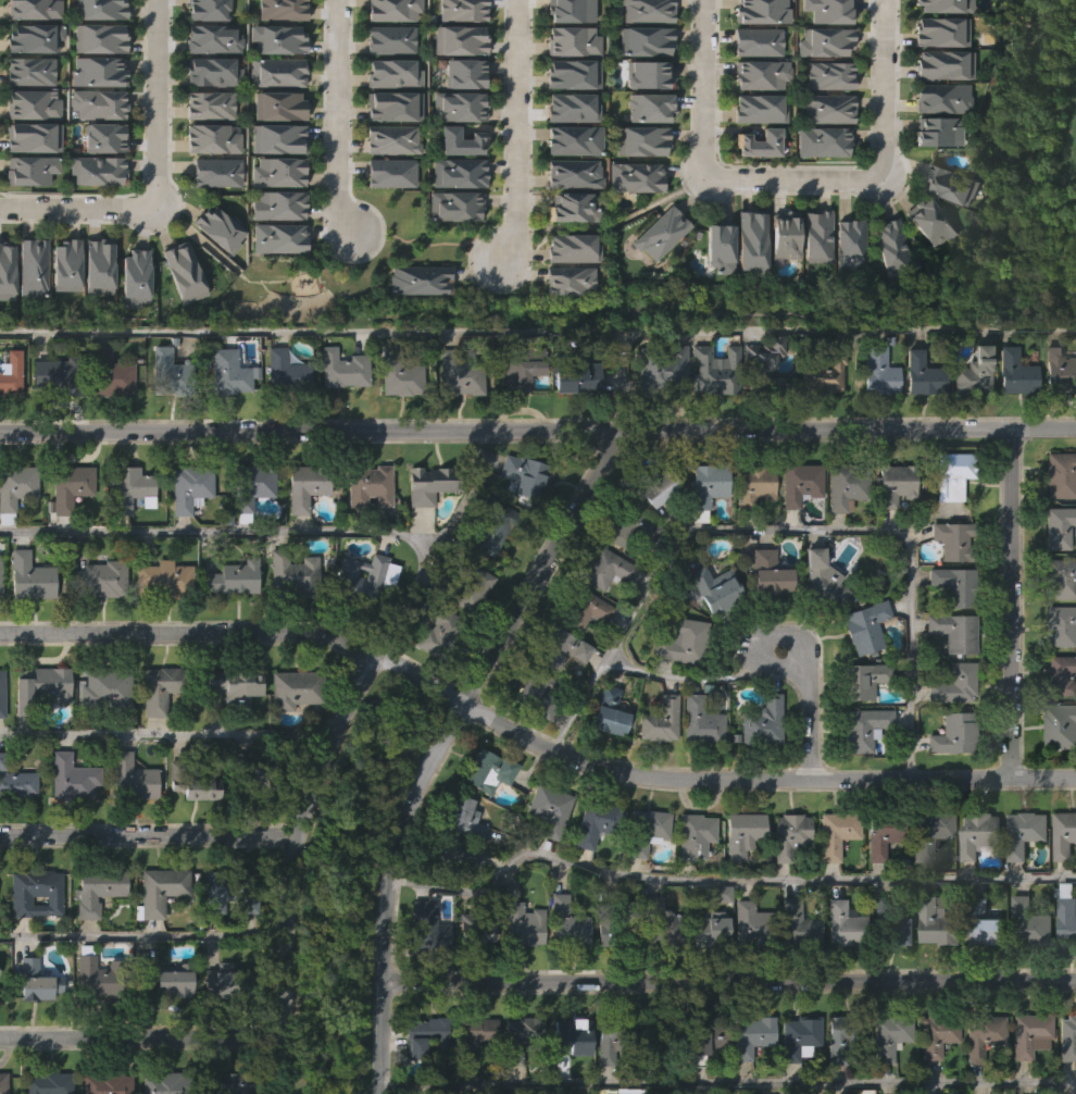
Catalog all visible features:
building: (646, 9)
building: (950, 12)
building: (27, 16)
building: (98, 16)
building: (211, 17)
building: (277, 18)
building: (385, 18)
building: (455, 18)
building: (572, 20)
building: (753, 20)
building: (822, 21)
building: (643, 37)
building: (938, 42)
building: (97, 49)
building: (29, 50)
building: (204, 50)
building: (278, 50)
building: (390, 51)
building: (459, 51)
building: (570, 52)
building: (641, 52)
building: (824, 52)
building: (758, 53)
building: (944, 64)
building: (574, 71)
building: (647, 72)
building: (393, 73)
building: (762, 74)
building: (32, 82)
building: (96, 83)
building: (210, 84)
building: (274, 84)
building: (455, 85)
building: (641, 85)
building: (570, 86)
building: (753, 86)
building: (821, 86)
road: (885, 87)
road: (705, 88)
building: (942, 95)
building: (649, 103)
building: (395, 104)
building: (572, 105)
road: (157, 107)
building: (454, 107)
building: (828, 108)
building: (760, 109)
building: (939, 109)
building: (27, 115)
building: (93, 115)
building: (210, 116)
building: (273, 116)
road: (339, 117)
building: (643, 119)
building: (940, 128)
road: (520, 133)
building: (574, 137)
building: (639, 137)
building: (461, 139)
building: (392, 140)
building: (761, 141)
building: (819, 142)
building: (93, 148)
building: (29, 149)
building: (207, 149)
building: (275, 150)
building: (646, 150)
building: (568, 151)
building: (574, 171)
building: (275, 172)
building: (391, 173)
building: (454, 174)
building: (635, 174)
road: (790, 177)
building: (29, 182)
building: (101, 182)
building: (209, 183)
building: (570, 185)
building: (949, 185)
building: (817, 186)
building: (754, 187)
building: (572, 203)
building: (278, 204)
building: (450, 207)
road: (79, 213)
building: (28, 214)
building: (95, 214)
building: (214, 216)
building: (387, 216)
building: (570, 217)
building: (930, 219)
building: (631, 222)
building: (659, 231)
building: (784, 232)
building: (816, 233)
building: (750, 237)
building: (274, 238)
building: (718, 243)
building: (849, 243)
building: (892, 244)
building: (575, 249)
building: (450, 250)
building: (926, 266)
building: (33, 268)
building: (7, 271)
building: (185, 272)
building: (216, 273)
building: (656, 277)
building: (420, 279)
building: (779, 279)
building: (812, 281)
building: (275, 282)
building: (747, 284)
building: (846, 290)
building: (714, 291)
building: (887, 291)
building: (568, 293)
building: (62, 310)
building: (96, 310)
building: (29, 312)
building: (4, 314)
building: (180, 316)
building: (132, 321)
building: (415, 324)
building: (565, 324)
road: (537, 328)
building: (762, 361)
building: (517, 365)
building: (347, 368)
building: (658, 368)
building: (713, 369)
building: (975, 369)
building: (1016, 370)
building: (1058, 370)
building: (232, 371)
building: (877, 371)
building: (173, 372)
building: (400, 372)
building: (290, 373)
building: (458, 373)
building: (823, 373)
building: (921, 373)
building: (111, 374)
building: (12, 375)
building: (62, 375)
building: (575, 377)
building: (762, 407)
building: (164, 413)
building: (339, 413)
building: (281, 414)
building: (659, 414)
building: (710, 415)
building: (875, 415)
building: (9, 417)
building: (225, 417)
building: (971, 417)
building: (1012, 417)
building: (1058, 417)
building: (108, 418)
building: (516, 418)
building: (455, 419)
building: (918, 419)
building: (53, 420)
building: (396, 420)
building: (819, 420)
building: (573, 422)
road: (538, 432)
building: (951, 473)
building: (1059, 473)
building: (522, 474)
building: (427, 482)
building: (800, 482)
building: (367, 484)
building: (751, 484)
building: (842, 484)
building: (893, 484)
building: (303, 485)
building: (71, 486)
building: (192, 487)
building: (248, 487)
building: (703, 487)
building: (15, 488)
building: (134, 488)
building: (662, 488)
road: (463, 496)
building: (949, 518)
building: (520, 519)
building: (128, 526)
road: (788, 526)
road: (272, 527)
building: (628, 527)
building: (796, 527)
building: (891, 527)
building: (1059, 527)
building: (424, 529)
building: (749, 529)
building: (15, 530)
building: (365, 530)
building: (66, 531)
building: (303, 531)
building: (498, 531)
building: (841, 531)
building: (654, 532)
building: (185, 533)
building: (249, 533)
building: (702, 533)
building: (953, 539)
building: (603, 568)
building: (291, 572)
building: (490, 573)
building: (627, 573)
building: (766, 573)
building: (2, 575)
building: (30, 576)
building: (233, 576)
building: (102, 579)
building: (1061, 579)
building: (167, 580)
building: (364, 580)
building: (826, 581)
building: (953, 585)
building: (462, 586)
building: (712, 587)
road: (1014, 604)
building: (579, 607)
building: (602, 612)
building: (289, 616)
building: (765, 618)
building: (362, 620)
building: (26, 621)
building: (816, 621)
building: (159, 622)
building: (96, 623)
building: (228, 623)
building: (863, 625)
building: (1059, 625)
building: (952, 630)
building: (437, 632)
building: (466, 632)
building: (711, 633)
building: (681, 641)
building: (549, 647)
building: (583, 654)
building: (1061, 675)
building: (433, 679)
building: (863, 679)
building: (678, 684)
building: (953, 684)
building: (233, 685)
building: (45, 686)
building: (110, 686)
building: (165, 687)
building: (293, 688)
building: (2, 693)
building: (536, 693)
building: (556, 693)
road: (812, 696)
building: (605, 711)
building: (658, 720)
building: (699, 722)
building: (761, 722)
building: (1060, 726)
building: (863, 728)
building: (38, 729)
building: (232, 730)
road: (167, 731)
building: (289, 733)
building: (102, 734)
building: (154, 734)
building: (953, 734)
road: (529, 737)
building: (533, 738)
building: (0, 739)
road: (445, 746)
building: (605, 756)
building: (656, 764)
building: (697, 766)
building: (759, 767)
building: (1058, 770)
building: (485, 771)
building: (860, 771)
building: (250, 772)
building: (76, 778)
building: (949, 778)
building: (135, 779)
building: (16, 782)
building: (193, 782)
building: (550, 808)
building: (484, 815)
building: (460, 818)
building: (70, 820)
building: (128, 822)
building: (593, 822)
building: (15, 828)
building: (642, 831)
building: (192, 832)
building: (740, 832)
building: (837, 832)
building: (1025, 832)
building: (881, 833)
building: (976, 833)
building: (788, 834)
building: (928, 834)
building: (1063, 834)
road: (149, 836)
building: (691, 836)
building: (546, 854)
building: (451, 858)
road: (293, 865)
building: (591, 867)
building: (640, 873)
building: (738, 877)
building: (1021, 877)
building: (786, 878)
building: (831, 878)
building: (926, 878)
building: (973, 878)
building: (1061, 878)
building: (690, 879)
road: (722, 880)
building: (873, 884)
building: (165, 888)
building: (100, 890)
building: (230, 890)
building: (38, 893)
building: (456, 897)
building: (1067, 912)
building: (796, 920)
building: (564, 923)
building: (656, 923)
building: (936, 923)
building: (981, 923)
building: (1027, 923)
building: (521, 924)
building: (750, 924)
building: (888, 924)
building: (425, 925)
building: (843, 927)
building: (212, 928)
building: (612, 928)
building: (708, 929)
building: (476, 930)
road: (142, 933)
building: (157, 933)
building: (93, 935)
building: (33, 937)
building: (243, 942)
building: (658, 965)
building: (933, 965)
building: (1064, 965)
building: (562, 966)
building: (745, 967)
building: (1026, 967)
building: (424, 968)
building: (793, 968)
building: (840, 968)
building: (518, 969)
building: (980, 970)
building: (599, 973)
building: (705, 973)
building: (473, 974)
building: (898, 975)
building: (103, 977)
building: (166, 978)
road: (728, 981)
building: (40, 982)
building: (232, 982)
building: (89, 1019)
building: (216, 1023)
building: (170, 1024)
building: (34, 1025)
building: (568, 1032)
building: (1033, 1033)
building: (935, 1034)
building: (424, 1035)
building: (753, 1035)
building: (981, 1035)
building: (659, 1036)
building: (797, 1036)
building: (841, 1036)
building: (888, 1036)
building: (471, 1037)
building: (517, 1037)
building: (613, 1037)
road: (141, 1039)
building: (1066, 1039)
building: (706, 1040)
building: (629, 1072)
building: (567, 1074)
building: (934, 1074)
building: (518, 1076)
building: (797, 1076)
building: (887, 1076)
building: (1027, 1076)
building: (474, 1077)
building: (750, 1077)
building: (842, 1077)
building: (1065, 1077)
building: (423, 1078)
building: (603, 1081)
building: (704, 1081)
building: (5, 1083)
building: (51, 1083)
building: (110, 1083)
building: (165, 1083)
building: (225, 1083)
road: (727, 1084)
building: (975, 1092)

